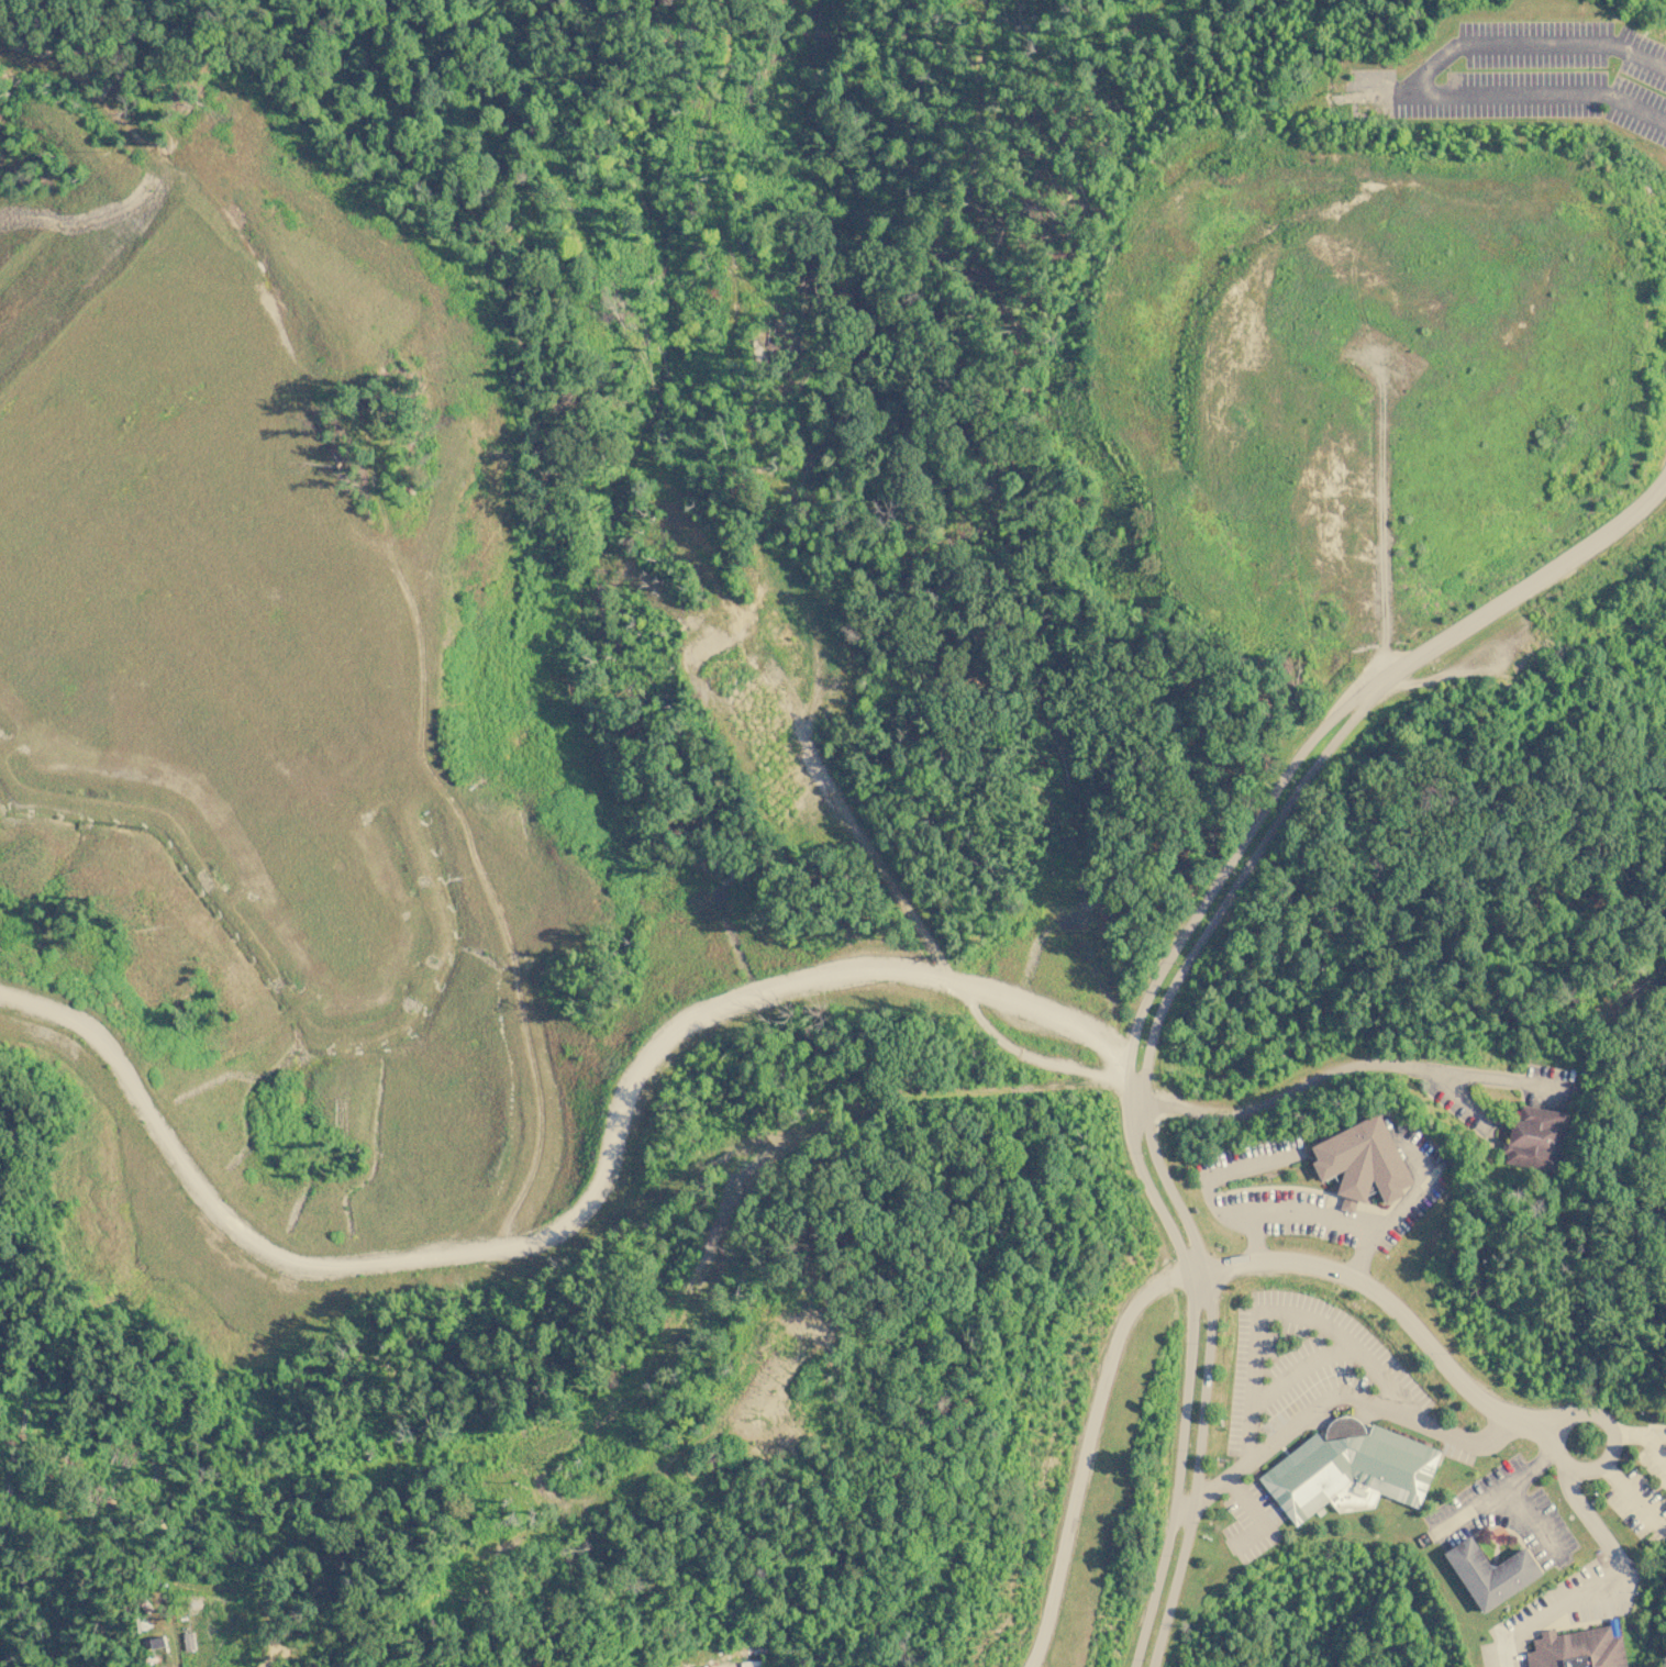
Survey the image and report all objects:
road: (1529, 44)
road: (1508, 93)
road: (1381, 518)
road: (1529, 584)
road: (1459, 669)
road: (949, 974)
road: (1345, 1069)
road: (1458, 1096)
building: (1541, 1136)
road: (1131, 1140)
road: (1151, 1146)
building: (1365, 1162)
road: (1417, 1187)
road: (1255, 1213)
road: (571, 1220)
road: (1252, 1238)
road: (1391, 1305)
road: (1282, 1312)
road: (1299, 1371)
road: (1333, 1402)
road: (1657, 1434)
road: (1612, 1435)
road: (1643, 1435)
road: (1086, 1455)
building: (1351, 1469)
road: (1492, 1491)
road: (1631, 1498)
road: (1258, 1516)
road: (1533, 1524)
building: (1493, 1571)
road: (1603, 1580)
building: (190, 1642)
building: (155, 1643)
building: (1581, 1649)

